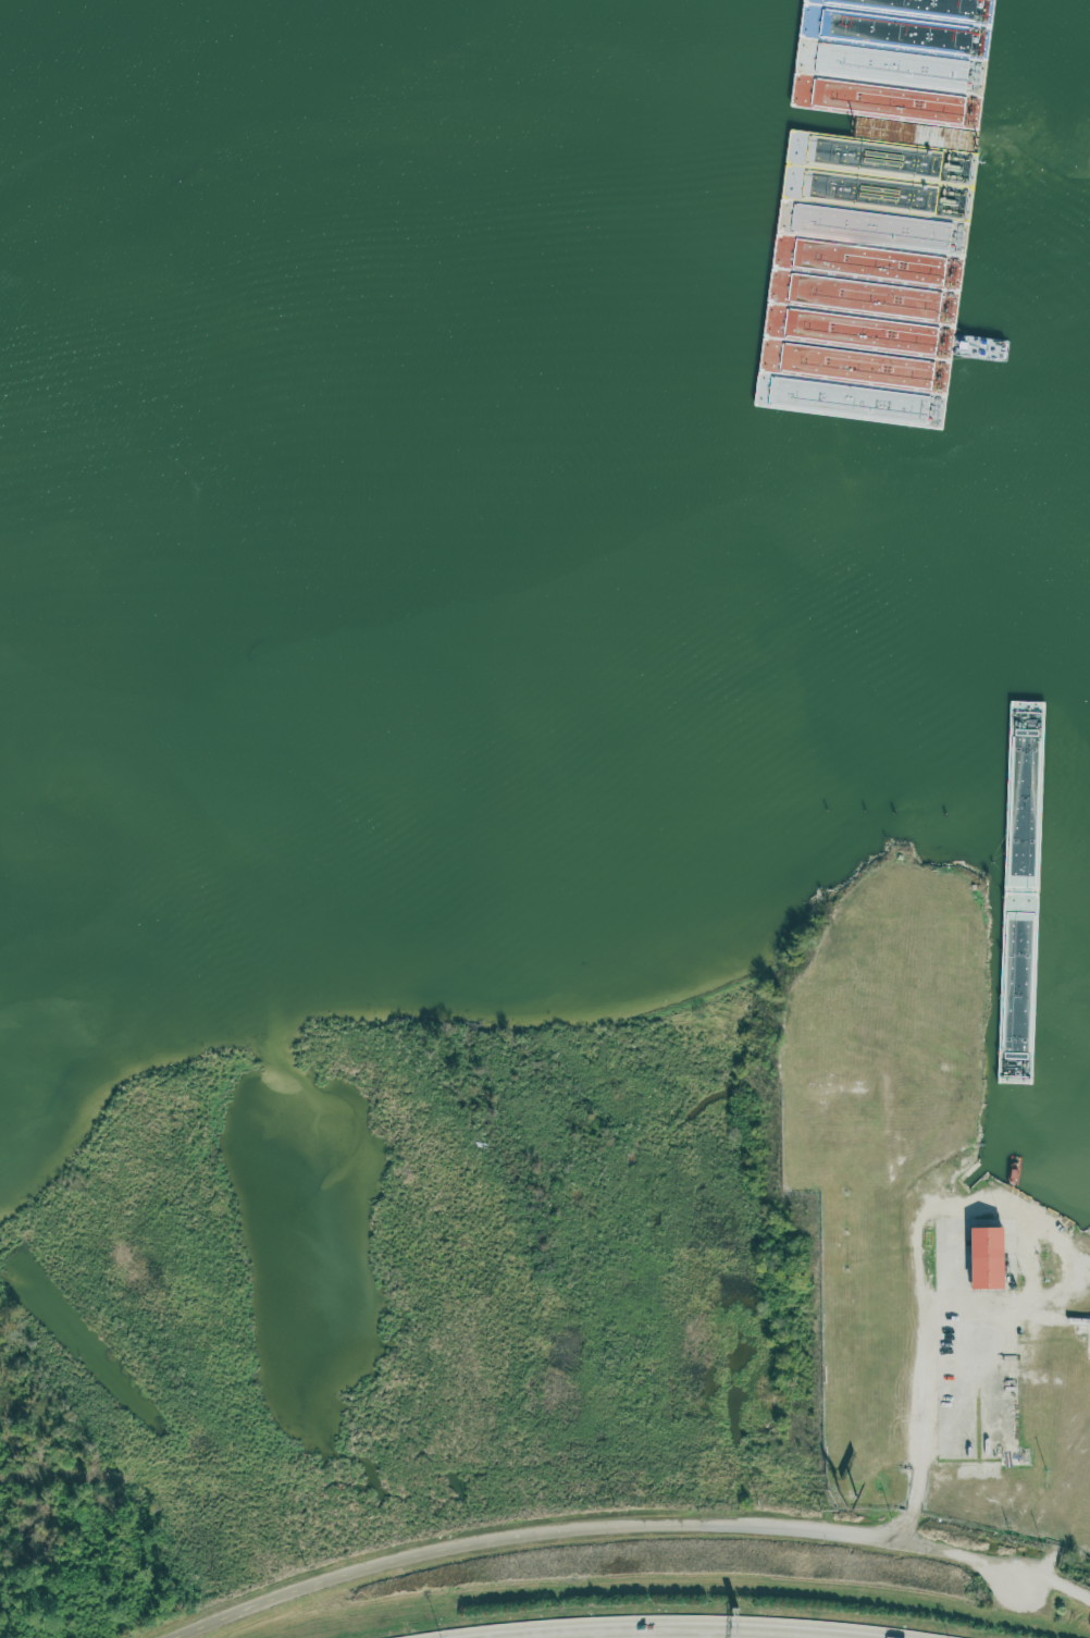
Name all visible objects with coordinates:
river: (852, 108)
building: (987, 1257)
road: (927, 1267)
road: (1010, 1348)
road: (632, 1531)
road: (637, 1628)

